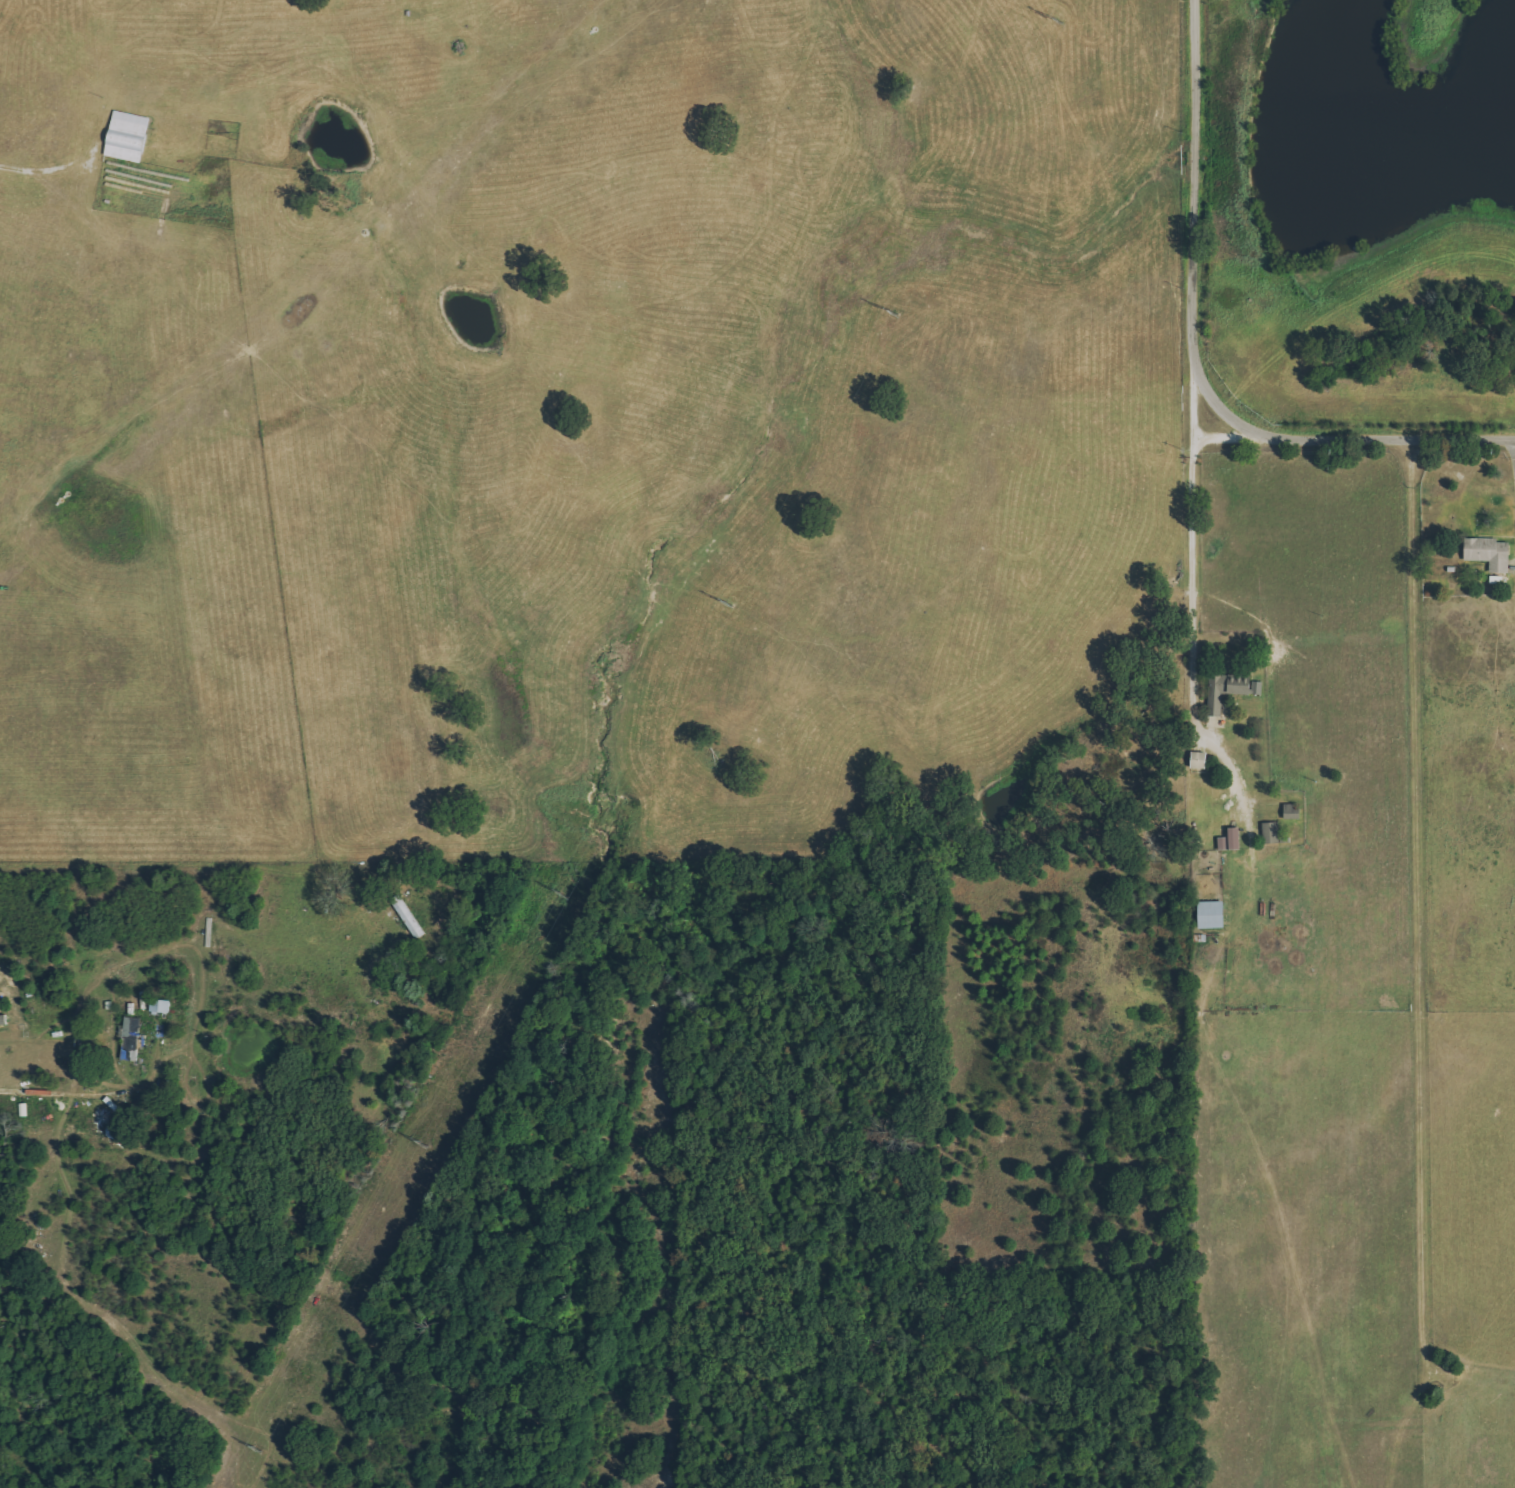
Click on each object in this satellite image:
power tower: (1045, 19)
building: (129, 136)
road: (1192, 204)
power tower: (879, 313)
road: (1222, 436)
road: (1360, 438)
road: (1191, 547)
building: (1491, 554)
power tower: (716, 603)
building: (1231, 691)
building: (1202, 760)
building: (1294, 812)
building: (1273, 833)
building: (1233, 841)
power tower: (552, 893)
building: (1214, 915)
building: (162, 1005)
building: (132, 1038)
power tower: (412, 1142)
power tower: (250, 1449)

